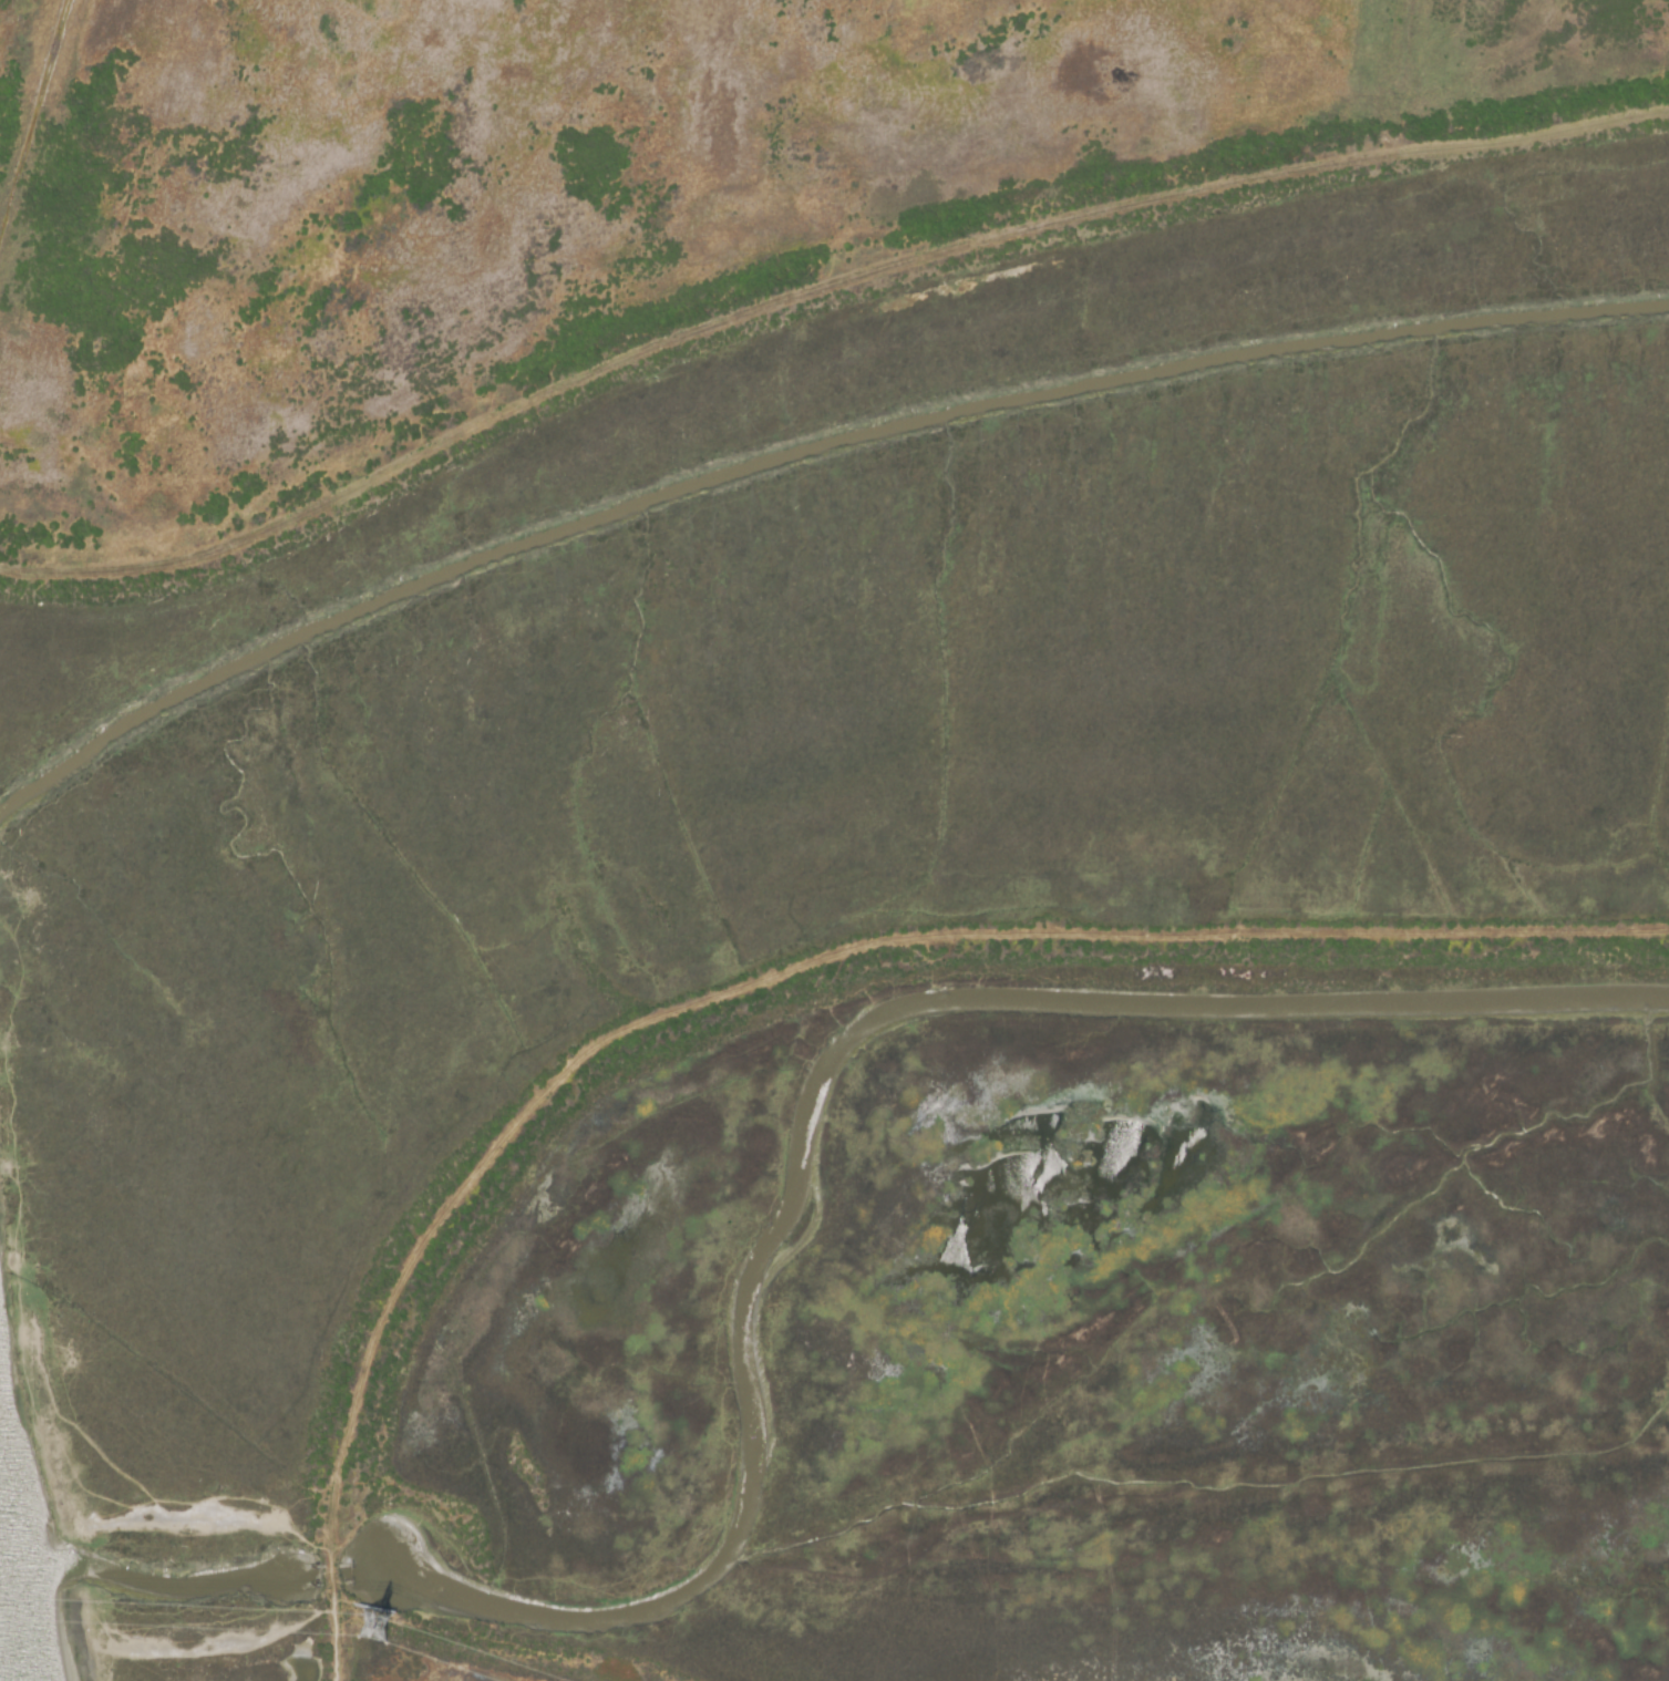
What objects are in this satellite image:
power tower: (370, 1632)

